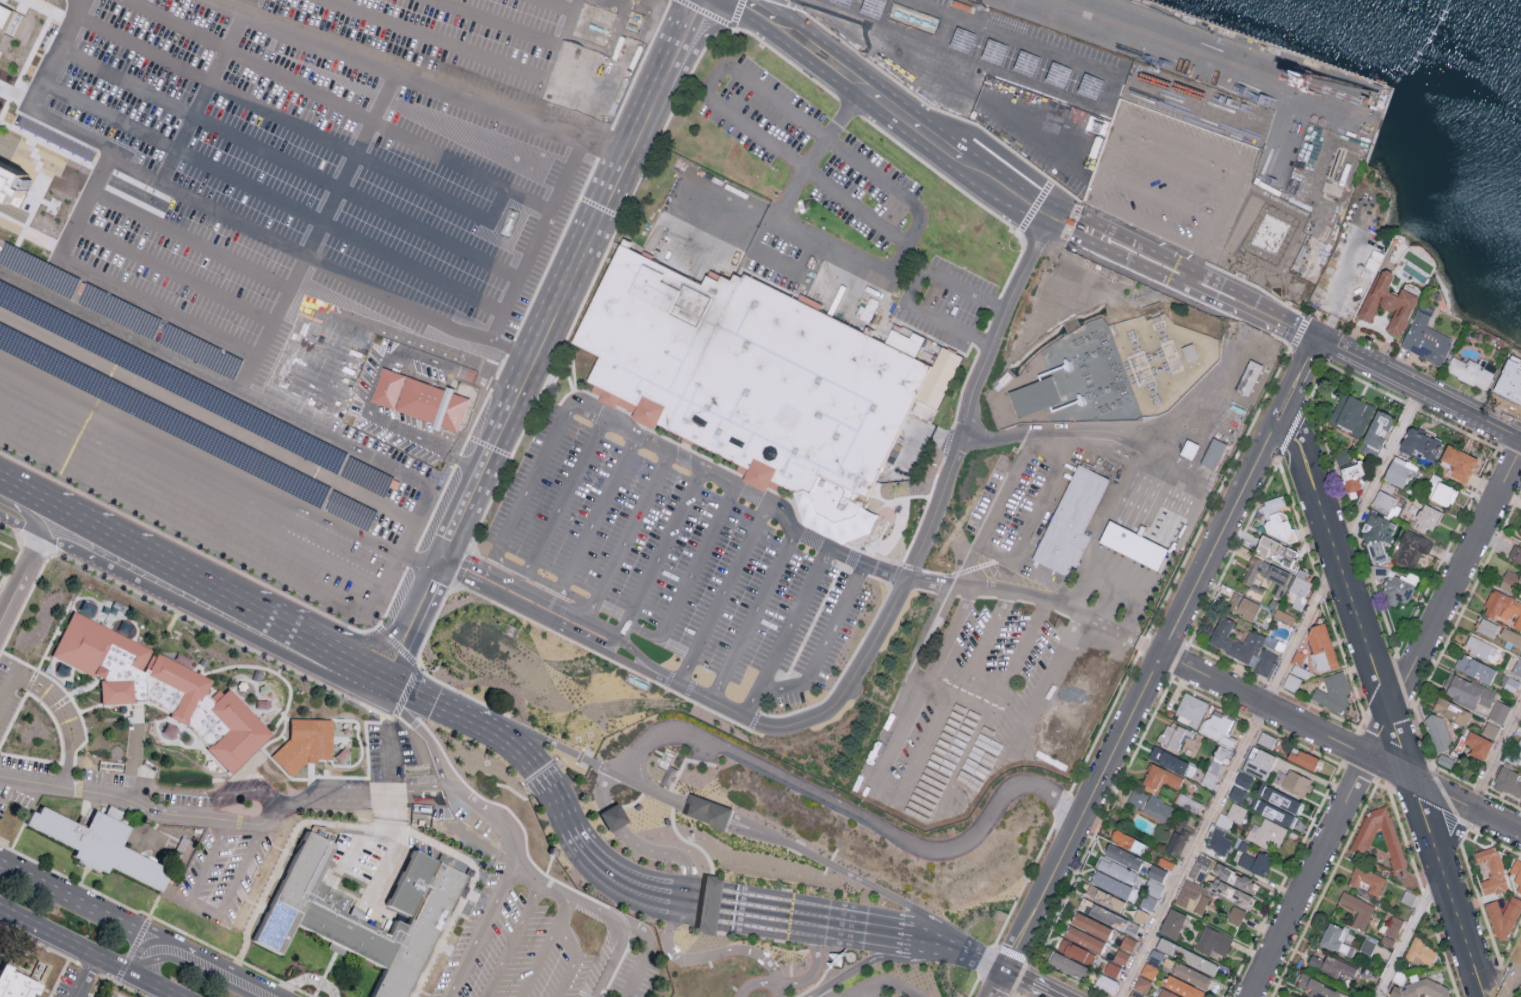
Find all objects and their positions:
road: (246, 3)
road: (558, 6)
road: (927, 7)
road: (757, 12)
building: (7, 19)
road: (499, 22)
road: (60, 40)
road: (461, 49)
road: (821, 58)
road: (673, 68)
building: (1223, 80)
road: (942, 84)
building: (1243, 84)
road: (201, 95)
road: (489, 96)
road: (336, 104)
road: (1103, 109)
road: (280, 117)
road: (739, 120)
road: (914, 124)
road: (1117, 129)
road: (1183, 138)
road: (611, 141)
road: (813, 151)
road: (289, 159)
road: (351, 160)
road: (1171, 167)
road: (570, 168)
road: (1100, 171)
parking lot: (1163, 175)
road: (1237, 176)
building: (8, 181)
road: (94, 192)
road: (273, 194)
road: (1015, 196)
road: (1158, 197)
road: (497, 203)
road: (1146, 227)
road: (1210, 235)
road: (191, 241)
road: (905, 245)
parking lot: (273, 250)
road: (1130, 253)
road: (769, 260)
road: (579, 263)
road: (319, 265)
road: (158, 267)
building: (38, 270)
road: (521, 272)
road: (296, 275)
road: (1350, 277)
road: (909, 287)
building: (1389, 305)
road: (159, 308)
road: (1252, 308)
building: (120, 311)
road: (272, 323)
road: (389, 329)
building: (650, 336)
building: (904, 341)
building: (1426, 341)
building: (200, 352)
building: (1063, 360)
road: (1307, 361)
building: (1475, 373)
road: (249, 374)
road: (378, 375)
building: (1248, 377)
building: (1508, 384)
road: (1419, 389)
building: (194, 390)
building: (1033, 396)
building: (419, 399)
building: (801, 400)
road: (330, 401)
building: (922, 410)
building: (1351, 416)
road: (207, 417)
road: (505, 421)
building: (186, 427)
building: (1377, 432)
building: (1419, 443)
building: (1458, 463)
road: (216, 464)
airport: (617, 465)
building: (1397, 471)
building: (1352, 479)
road: (739, 489)
building: (1443, 494)
road: (6, 495)
road: (564, 495)
road: (190, 496)
building: (1386, 502)
road: (464, 504)
road: (995, 507)
road: (34, 509)
road: (597, 512)
road: (1032, 513)
road: (29, 518)
building: (1426, 519)
road: (413, 521)
building: (1071, 521)
road: (1130, 522)
building: (1278, 522)
road: (21, 529)
road: (1221, 530)
building: (1376, 531)
building: (1520, 534)
road: (98, 542)
building: (1132, 545)
building: (1411, 548)
building: (1279, 552)
building: (1515, 554)
parking lot: (677, 561)
road: (25, 573)
building: (1267, 576)
road: (904, 578)
building: (1511, 582)
road: (546, 583)
building: (1300, 590)
building: (1398, 591)
road: (196, 593)
road: (509, 593)
road: (721, 593)
road: (4, 602)
road: (417, 602)
building: (1242, 606)
building: (1503, 609)
road: (4, 614)
road: (585, 616)
road: (752, 616)
road: (207, 621)
building: (1487, 627)
road: (1116, 629)
road: (639, 631)
road: (784, 632)
road: (619, 633)
road: (597, 635)
building: (1510, 637)
road: (295, 643)
road: (823, 644)
building: (1243, 647)
building: (1479, 647)
building: (1321, 649)
road: (387, 666)
building: (1475, 668)
building: (1517, 668)
road: (15, 673)
road: (359, 676)
road: (1212, 677)
road: (1045, 682)
traffic signals: (378, 686)
building: (1466, 692)
building: (162, 693)
road: (1270, 693)
building: (1334, 693)
road: (984, 694)
road: (1384, 703)
building: (1191, 709)
road: (55, 710)
road: (434, 710)
building: (1452, 711)
building: (1499, 711)
road: (1385, 722)
building: (1218, 725)
building: (1490, 729)
building: (1437, 734)
building: (1174, 735)
building: (1266, 738)
road: (544, 740)
building: (1475, 743)
building: (305, 747)
building: (1519, 750)
building: (1303, 757)
building: (1169, 759)
building: (1445, 759)
building: (1259, 761)
road: (389, 763)
building: (1216, 765)
building: (1520, 766)
road: (640, 768)
road: (1393, 768)
building: (1161, 776)
building: (1243, 778)
building: (1508, 780)
building: (1294, 781)
road: (447, 782)
building: (1237, 792)
road: (825, 798)
building: (1149, 803)
building: (1276, 804)
road: (705, 809)
building: (704, 810)
road: (1083, 811)
building: (1232, 815)
building: (610, 816)
road: (229, 822)
building: (1267, 833)
building: (1178, 838)
road: (576, 839)
building: (1127, 840)
building: (1218, 840)
building: (1364, 840)
road: (636, 845)
building: (97, 847)
building: (180, 849)
road: (1444, 850)
building: (1122, 855)
building: (1255, 861)
building: (1165, 862)
building: (1199, 866)
building: (1115, 869)
building: (1155, 871)
building: (1492, 874)
building: (1517, 876)
building: (1234, 877)
building: (1367, 878)
building: (1110, 883)
road: (870, 886)
building: (1153, 887)
building: (1230, 891)
building: (1192, 895)
building: (1104, 896)
building: (1408, 896)
building: (706, 903)
road: (701, 904)
road: (712, 906)
road: (84, 908)
building: (1357, 909)
road: (604, 913)
building: (1236, 913)
road: (205, 914)
building: (1106, 914)
building: (306, 916)
building: (1504, 919)
road: (816, 921)
building: (1172, 922)
building: (1090, 924)
road: (481, 926)
building: (1392, 929)
building: (1083, 937)
building: (1336, 938)
road: (931, 939)
road: (513, 940)
building: (1212, 940)
building: (1127, 942)
road: (545, 947)
building: (1076, 950)
building: (1421, 953)
road: (85, 954)
building: (1121, 955)
building: (1155, 956)
building: (1189, 956)
road: (704, 957)
road: (977, 957)
road: (643, 958)
road: (884, 959)
road: (573, 961)
building: (1067, 963)
building: (1332, 965)
road: (159, 968)
building: (1111, 968)
building: (1149, 970)
road: (218, 973)
building: (1191, 974)
road: (84, 978)
road: (799, 981)
building: (1104, 982)
building: (1141, 983)
building: (13, 984)
road: (1000, 984)
road: (1033, 984)
road: (1514, 984)
building: (1182, 986)
building: (1316, 986)
parking lot: (874, 987)
road: (861, 988)
road: (872, 988)
road: (896, 988)
building: (1424, 989)
road: (777, 991)
building: (1167, 993)
building: (111, 994)
road: (818, 994)
building: (1386, 996)

